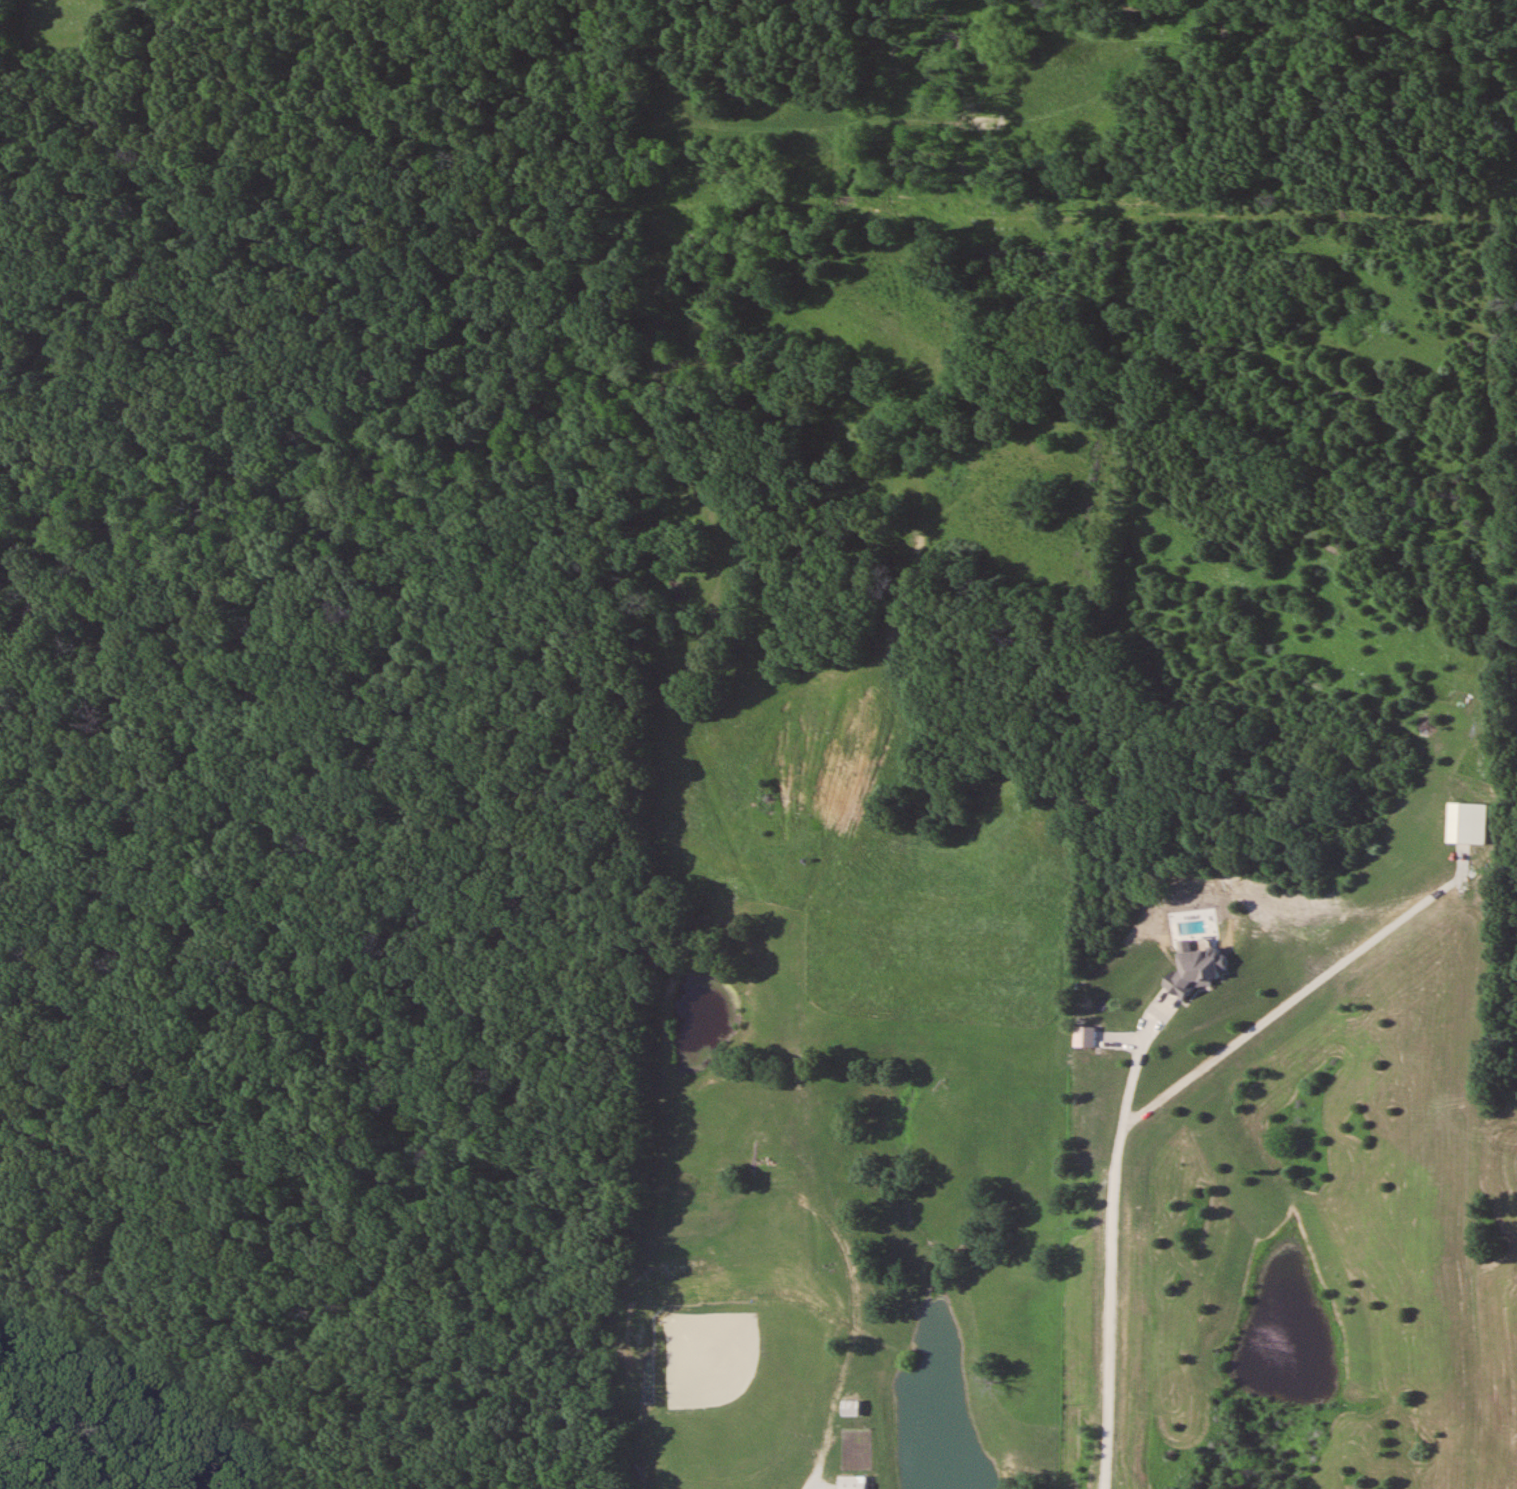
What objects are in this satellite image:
building: (1469, 824)
building: (1193, 969)
building: (851, 1407)
building: (852, 1482)

